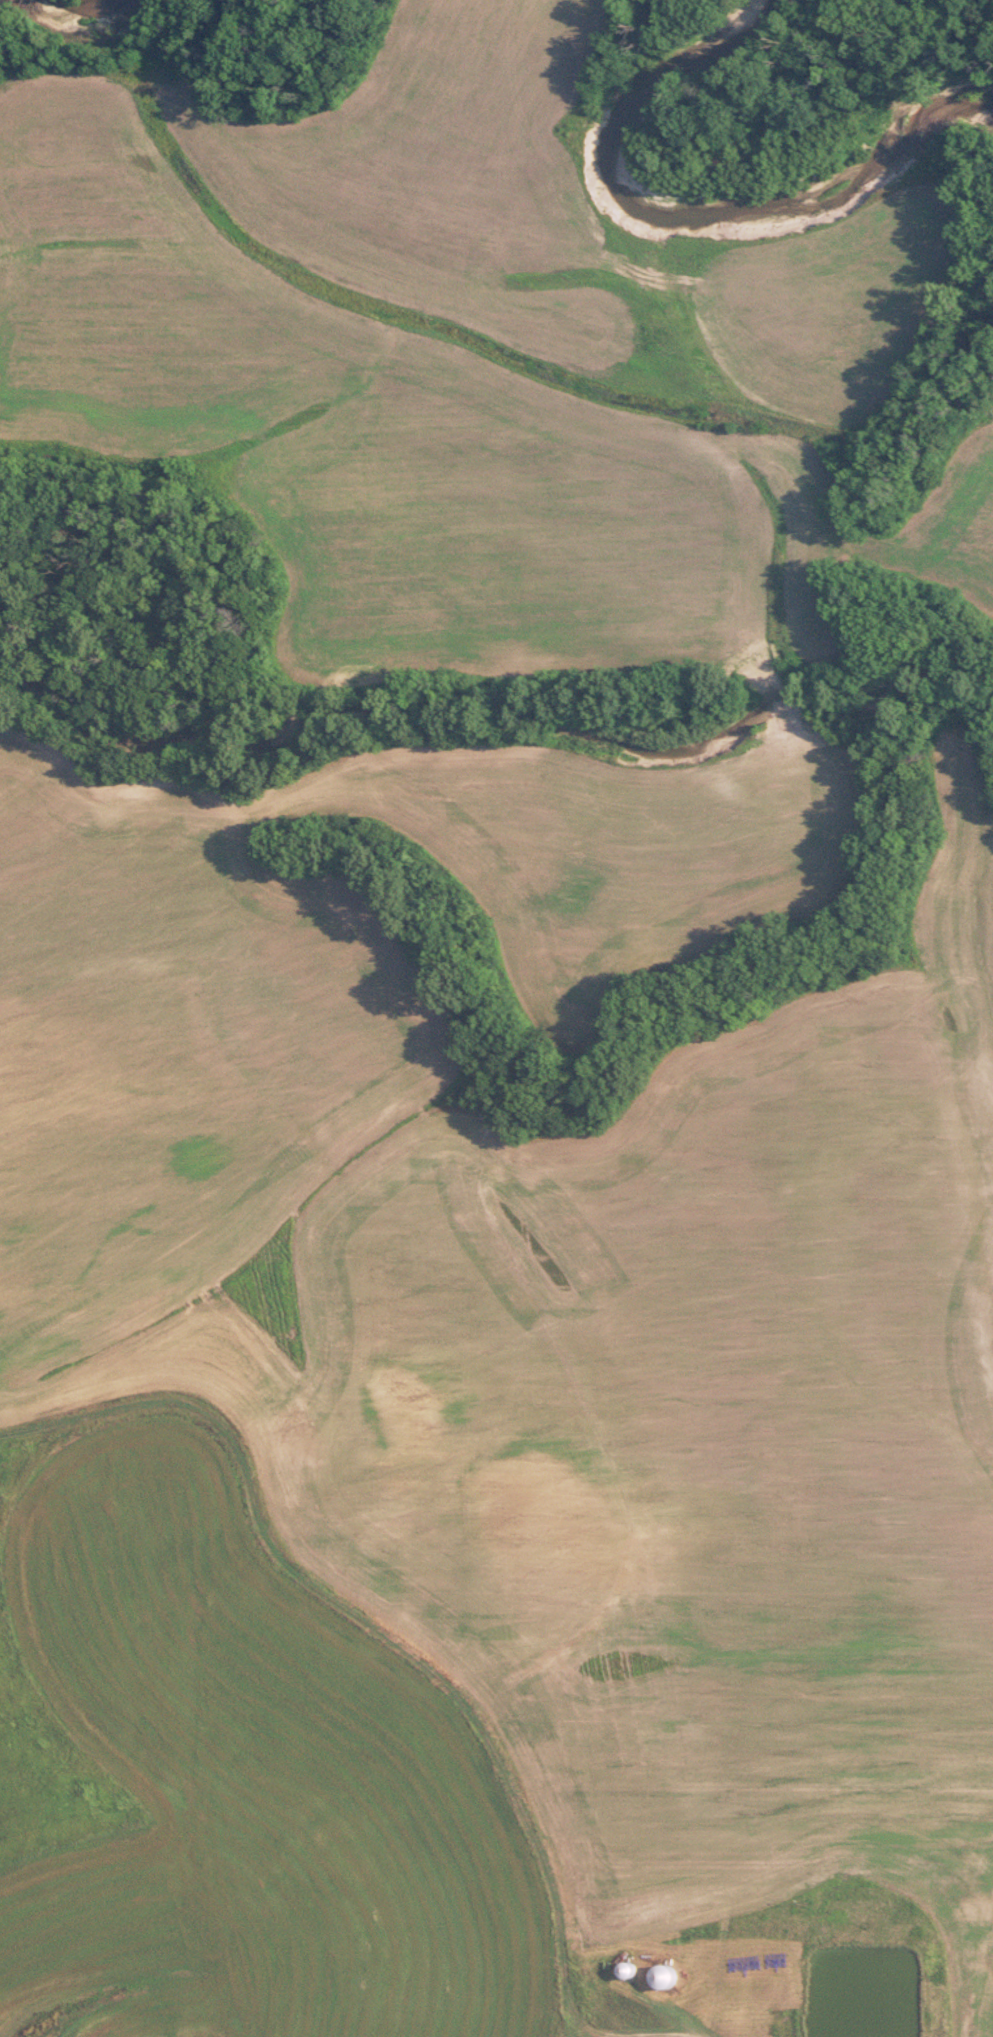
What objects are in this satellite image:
building: (629, 1971)
building: (666, 1977)

